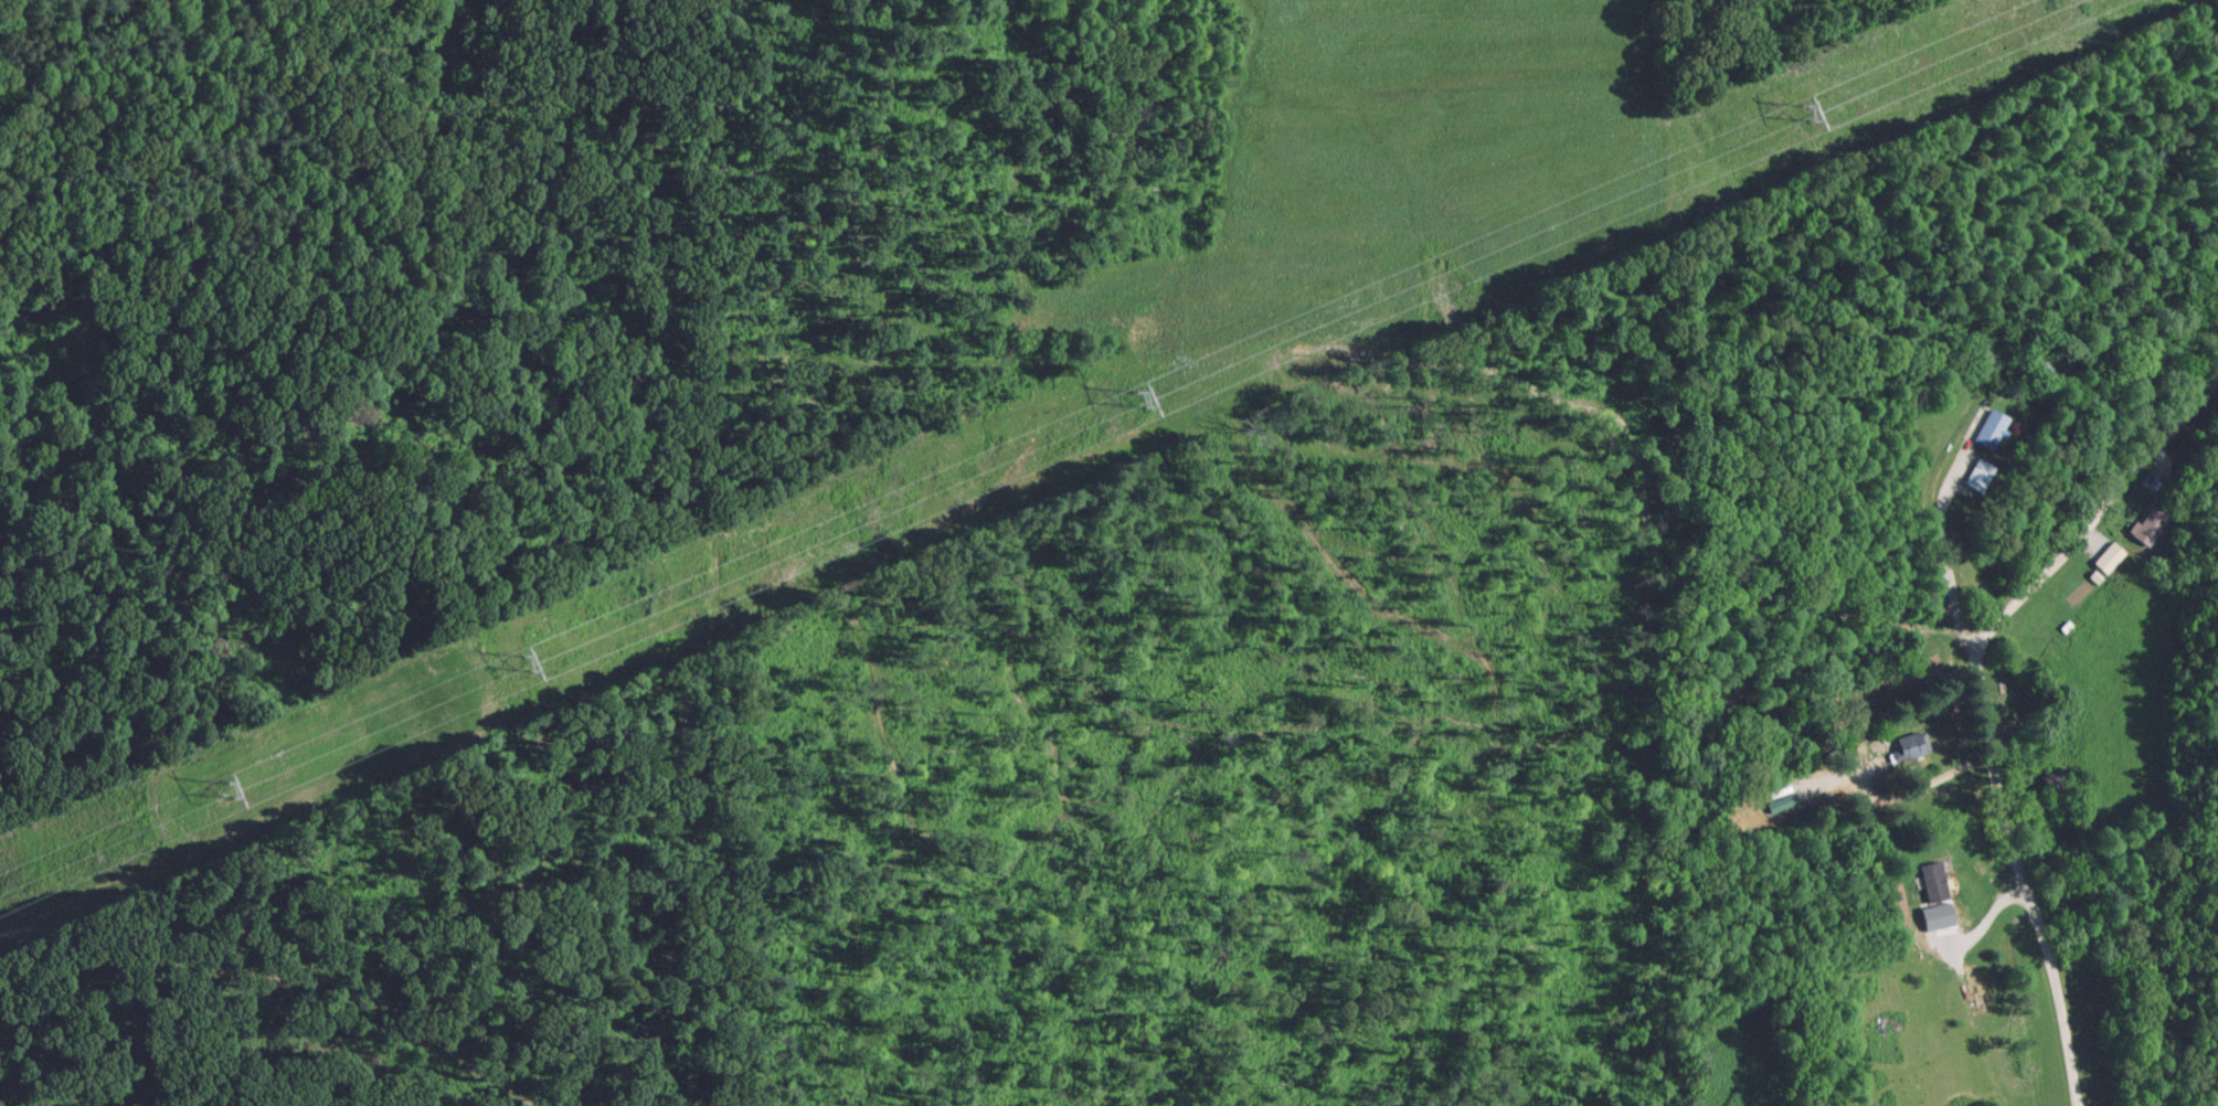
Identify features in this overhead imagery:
power tower: (1805, 113)
power tower: (1138, 397)
building: (1989, 427)
building: (1975, 475)
building: (2147, 524)
building: (2106, 557)
power tower: (527, 661)
road: (1984, 703)
building: (1908, 743)
power tower: (232, 788)
building: (1930, 879)

